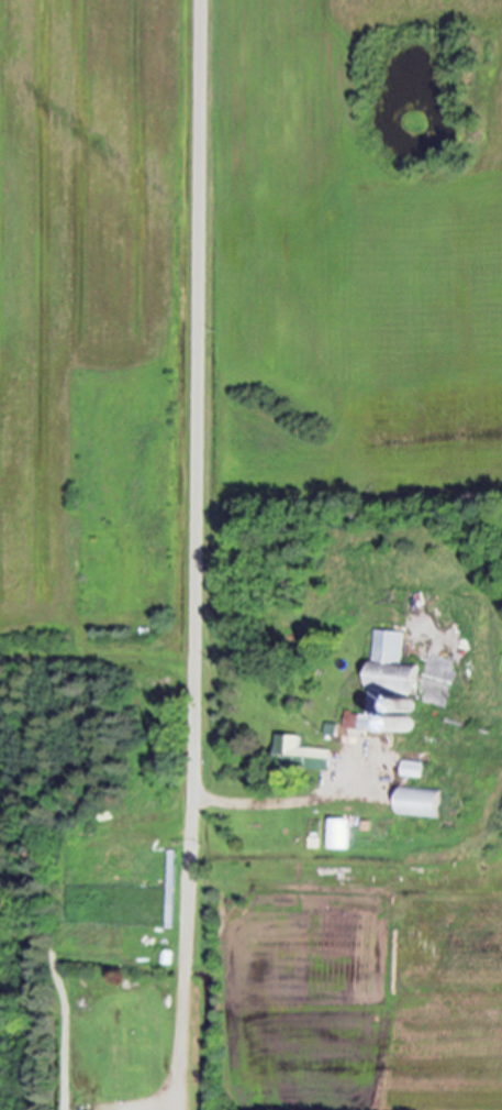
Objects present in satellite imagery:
road: (192, 554)
building: (393, 685)
building: (304, 754)
building: (424, 802)
building: (338, 833)

